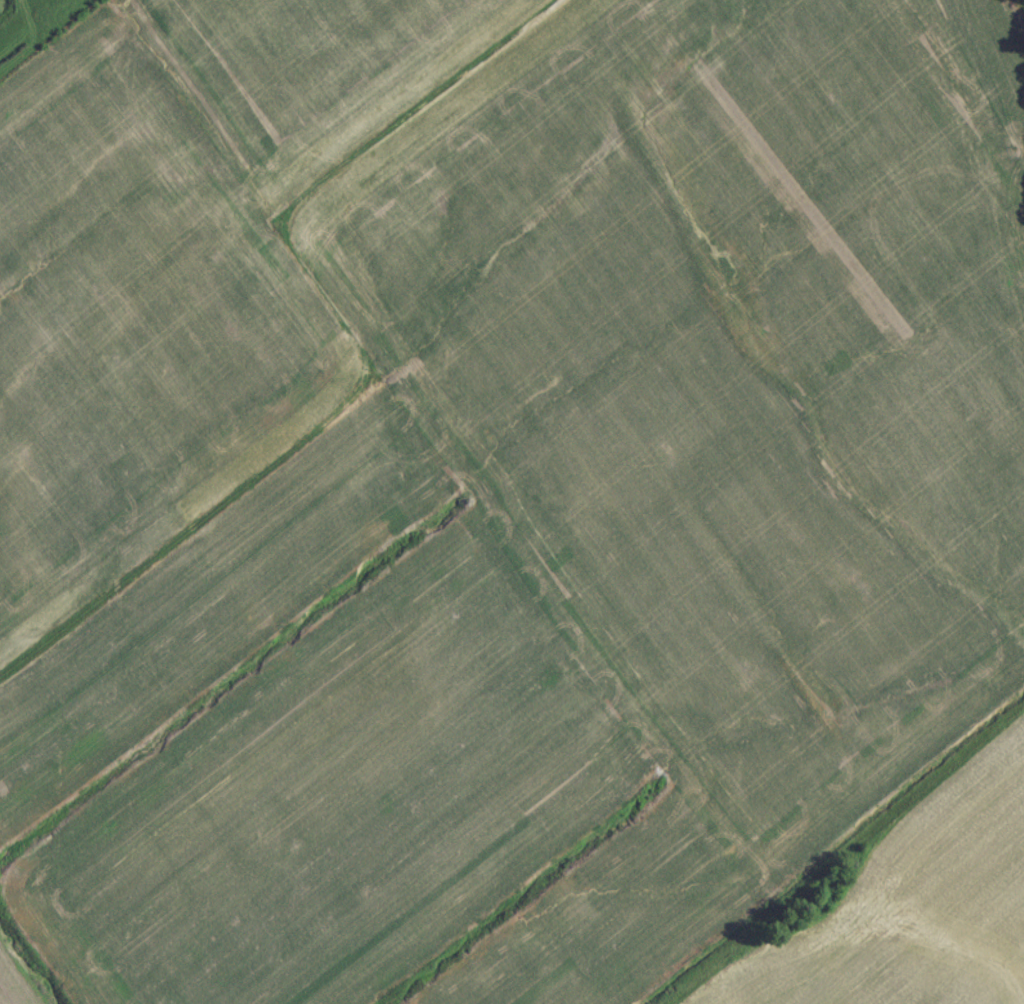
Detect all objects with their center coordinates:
road: (843, 854)

